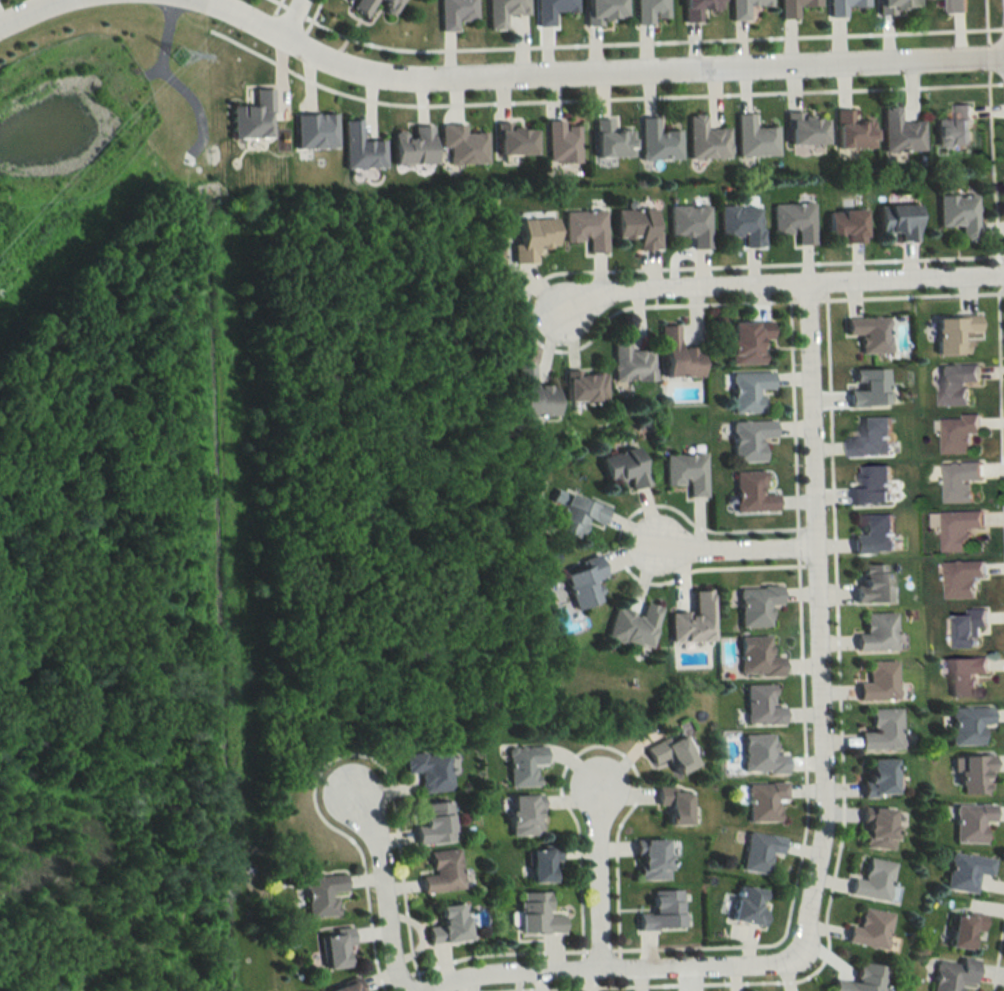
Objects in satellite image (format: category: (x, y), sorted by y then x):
road: (277, 3)
building: (386, 4)
building: (359, 5)
building: (840, 5)
building: (888, 5)
building: (958, 5)
building: (792, 6)
road: (273, 7)
building: (695, 7)
building: (741, 7)
building: (549, 9)
building: (648, 9)
road: (24, 10)
building: (599, 10)
road: (290, 11)
building: (453, 11)
building: (501, 11)
road: (309, 16)
road: (288, 17)
road: (986, 22)
road: (1003, 28)
road: (161, 41)
road: (647, 42)
road: (989, 56)
power tower: (177, 57)
road: (597, 73)
road: (1003, 83)
road: (596, 98)
road: (194, 109)
building: (253, 117)
building: (953, 127)
building: (802, 128)
building: (311, 130)
building: (849, 131)
building: (897, 132)
building: (752, 137)
building: (511, 139)
building: (704, 139)
building: (608, 140)
building: (655, 141)
building: (560, 142)
building: (408, 145)
building: (460, 145)
building: (358, 148)
road: (992, 167)
building: (956, 214)
building: (896, 220)
building: (792, 221)
building: (688, 224)
building: (740, 224)
building: (842, 225)
building: (633, 227)
building: (583, 229)
building: (529, 237)
road: (593, 270)
road: (1002, 274)
road: (792, 281)
road: (568, 291)
road: (910, 296)
road: (806, 299)
building: (867, 333)
building: (952, 333)
building: (744, 341)
building: (674, 355)
building: (629, 361)
building: (955, 383)
building: (582, 386)
building: (865, 387)
building: (746, 390)
building: (530, 394)
road: (999, 407)
road: (792, 414)
building: (958, 433)
building: (870, 438)
building: (747, 439)
building: (621, 467)
building: (684, 472)
building: (960, 481)
building: (871, 487)
building: (750, 492)
building: (574, 514)
road: (666, 523)
building: (958, 529)
building: (873, 536)
road: (615, 542)
road: (796, 546)
road: (746, 547)
building: (962, 579)
building: (580, 582)
building: (870, 583)
building: (754, 605)
building: (688, 620)
building: (630, 626)
building: (966, 627)
building: (875, 633)
building: (755, 657)
building: (964, 675)
building: (877, 681)
building: (759, 706)
building: (966, 724)
building: (879, 730)
road: (596, 744)
building: (667, 753)
road: (334, 756)
building: (758, 756)
building: (521, 765)
building: (427, 770)
road: (614, 772)
building: (973, 774)
building: (875, 777)
road: (372, 782)
road: (840, 798)
building: (762, 801)
building: (671, 804)
road: (822, 809)
building: (520, 815)
building: (969, 822)
building: (431, 823)
building: (874, 828)
road: (801, 834)
building: (757, 852)
building: (647, 859)
building: (537, 863)
building: (439, 871)
building: (962, 872)
building: (870, 880)
road: (598, 890)
building: (319, 895)
road: (380, 906)
building: (743, 906)
building: (658, 911)
building: (533, 915)
building: (444, 925)
building: (960, 928)
building: (868, 929)
road: (997, 947)
building: (331, 949)
road: (598, 950)
road: (495, 951)
building: (951, 975)
building: (859, 979)
road: (419, 984)
building: (343, 987)

